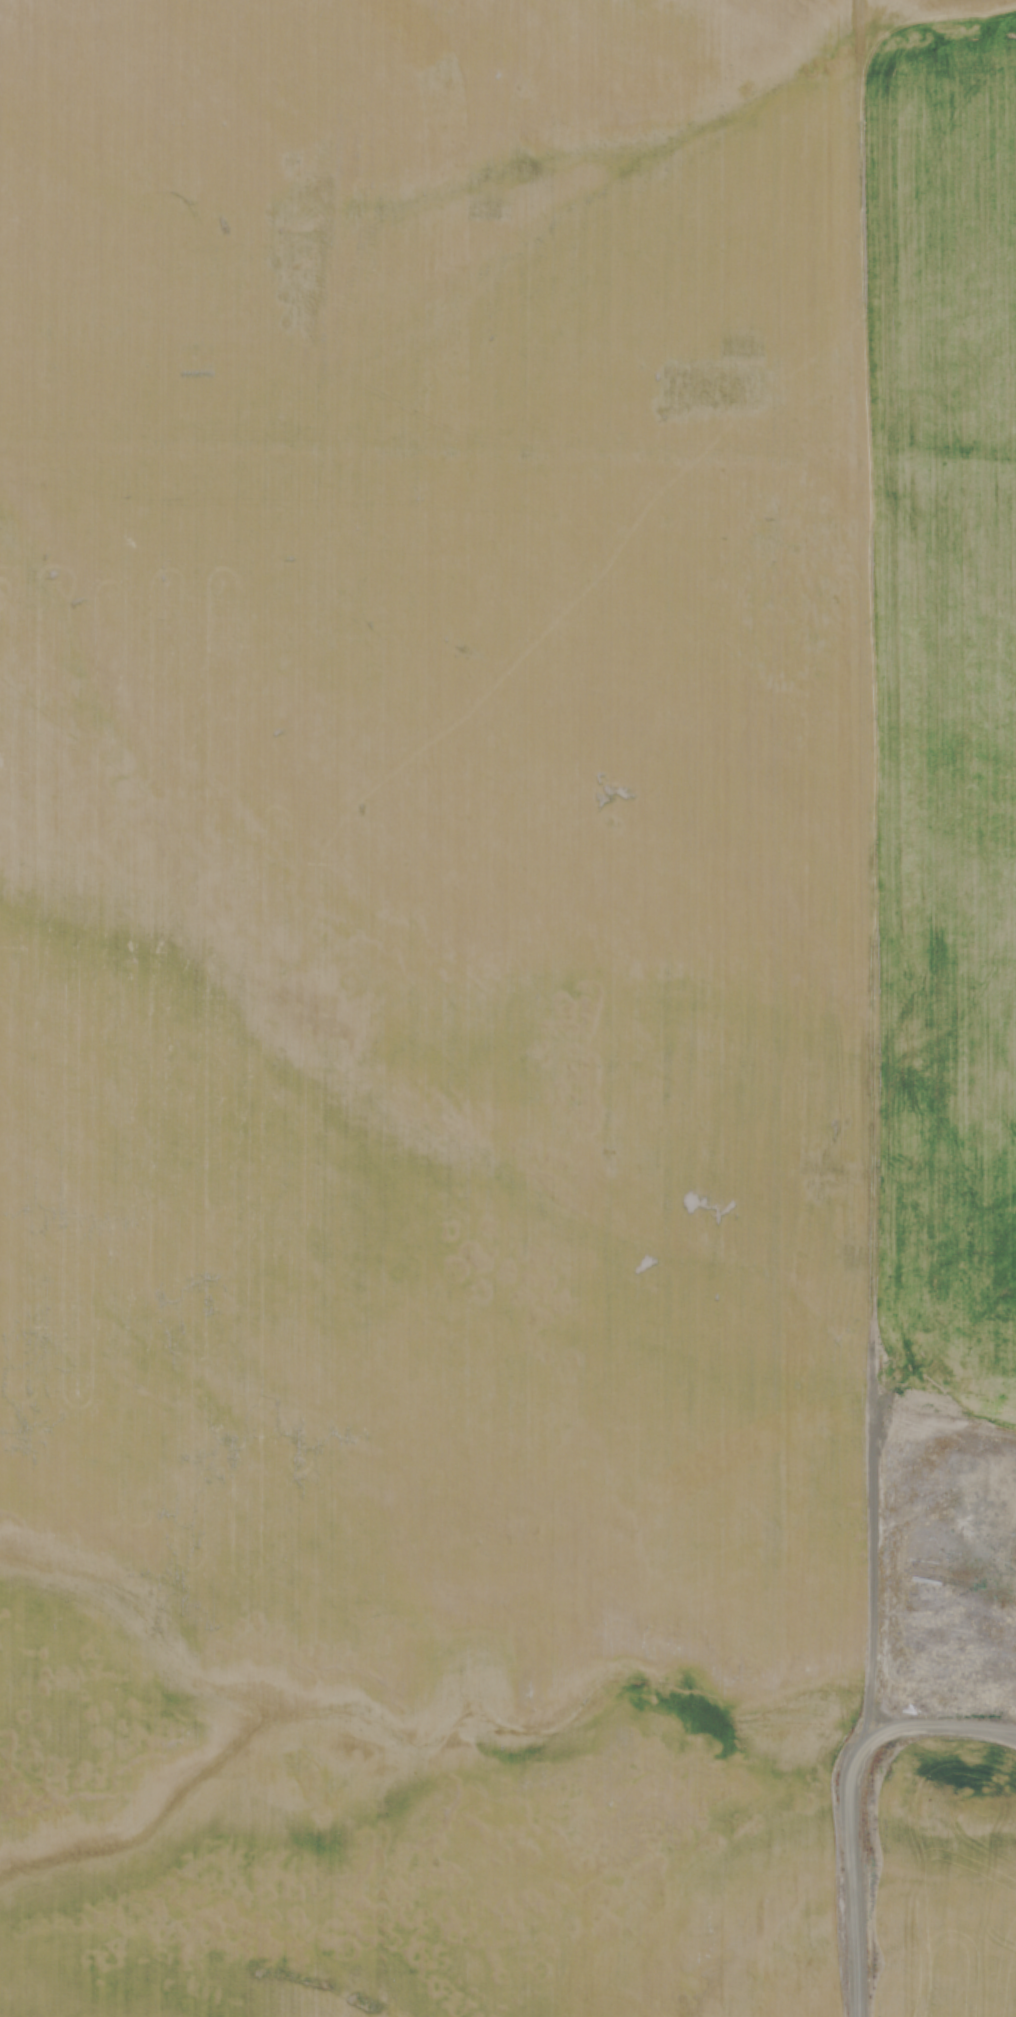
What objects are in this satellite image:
road: (858, 1868)

